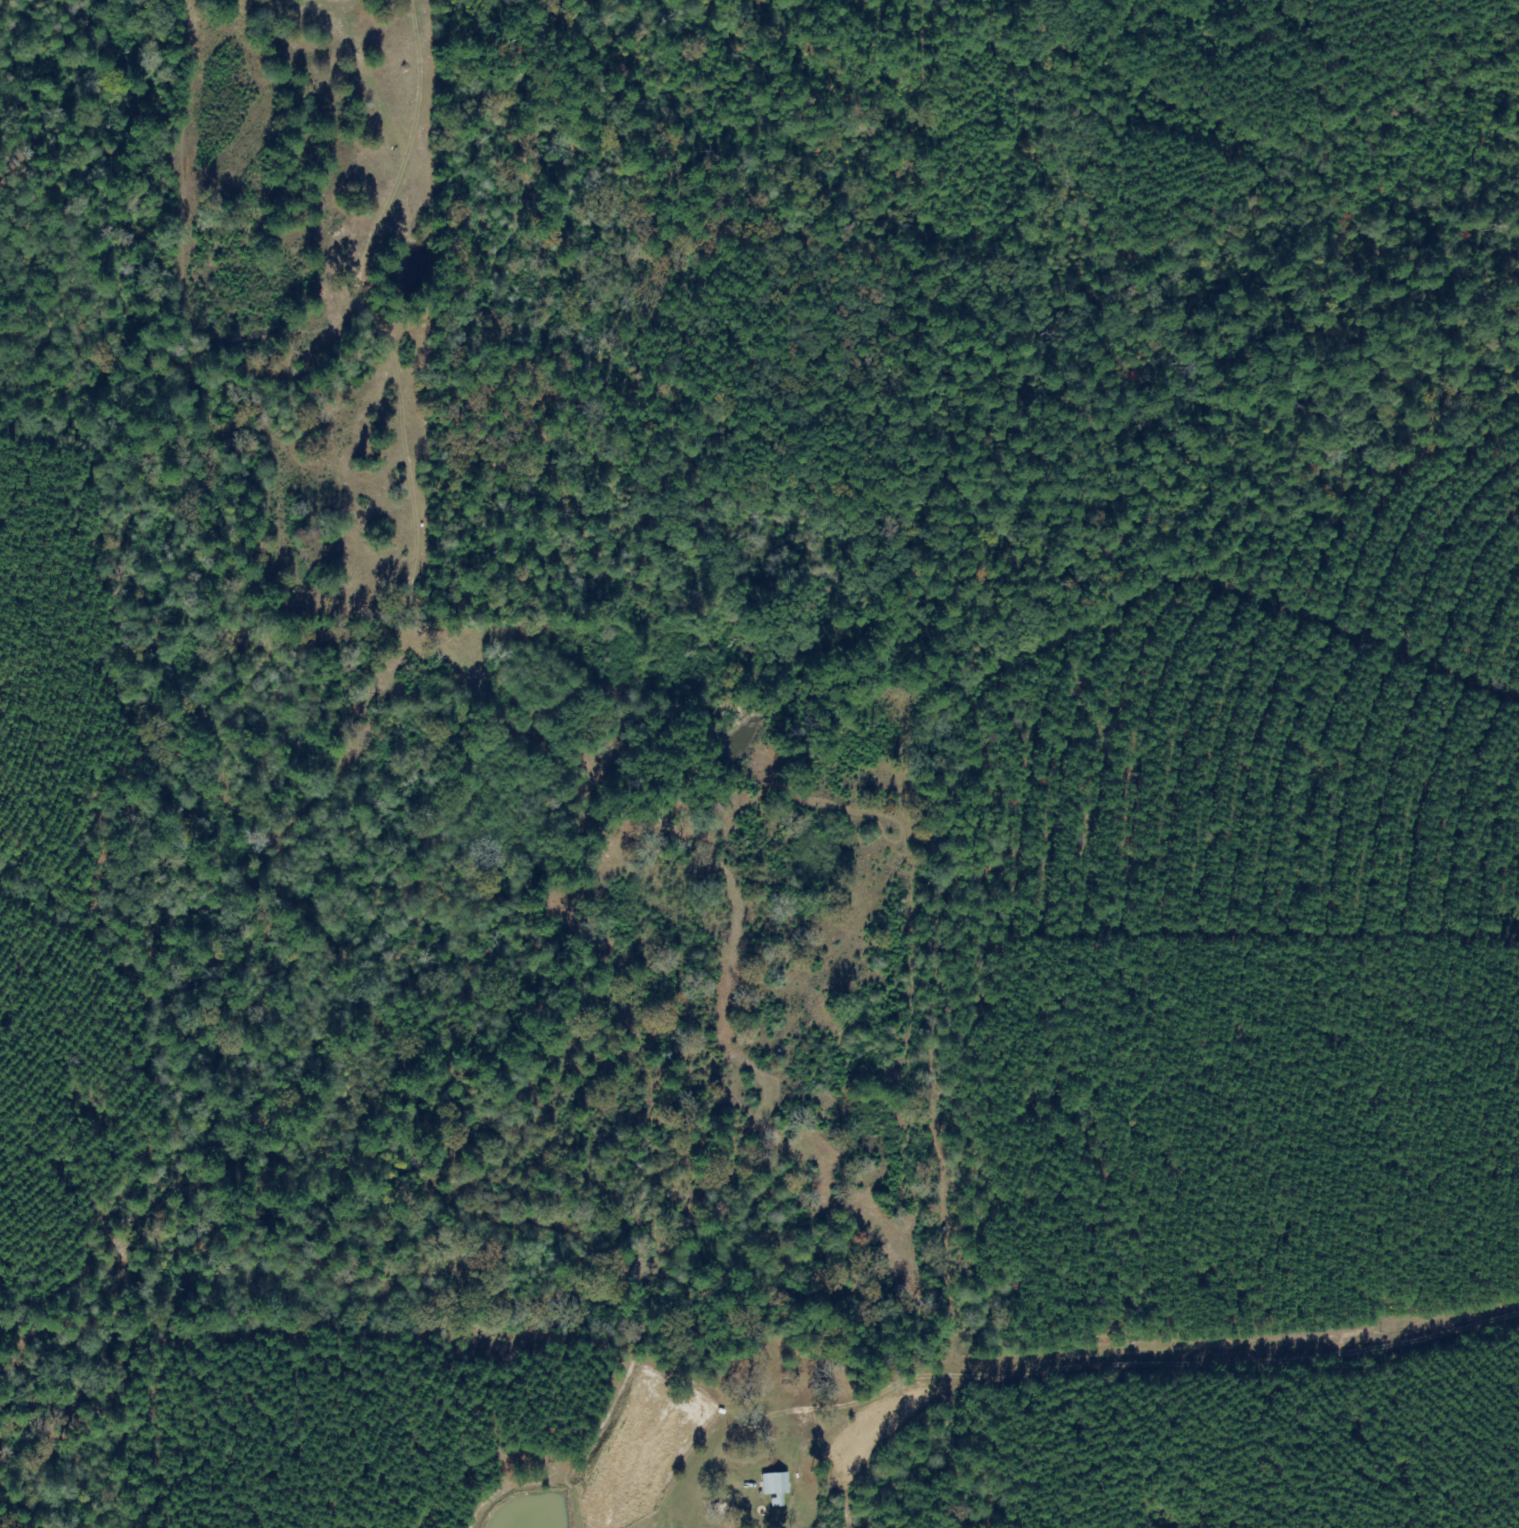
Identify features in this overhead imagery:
road: (1163, 1383)
building: (776, 1487)

